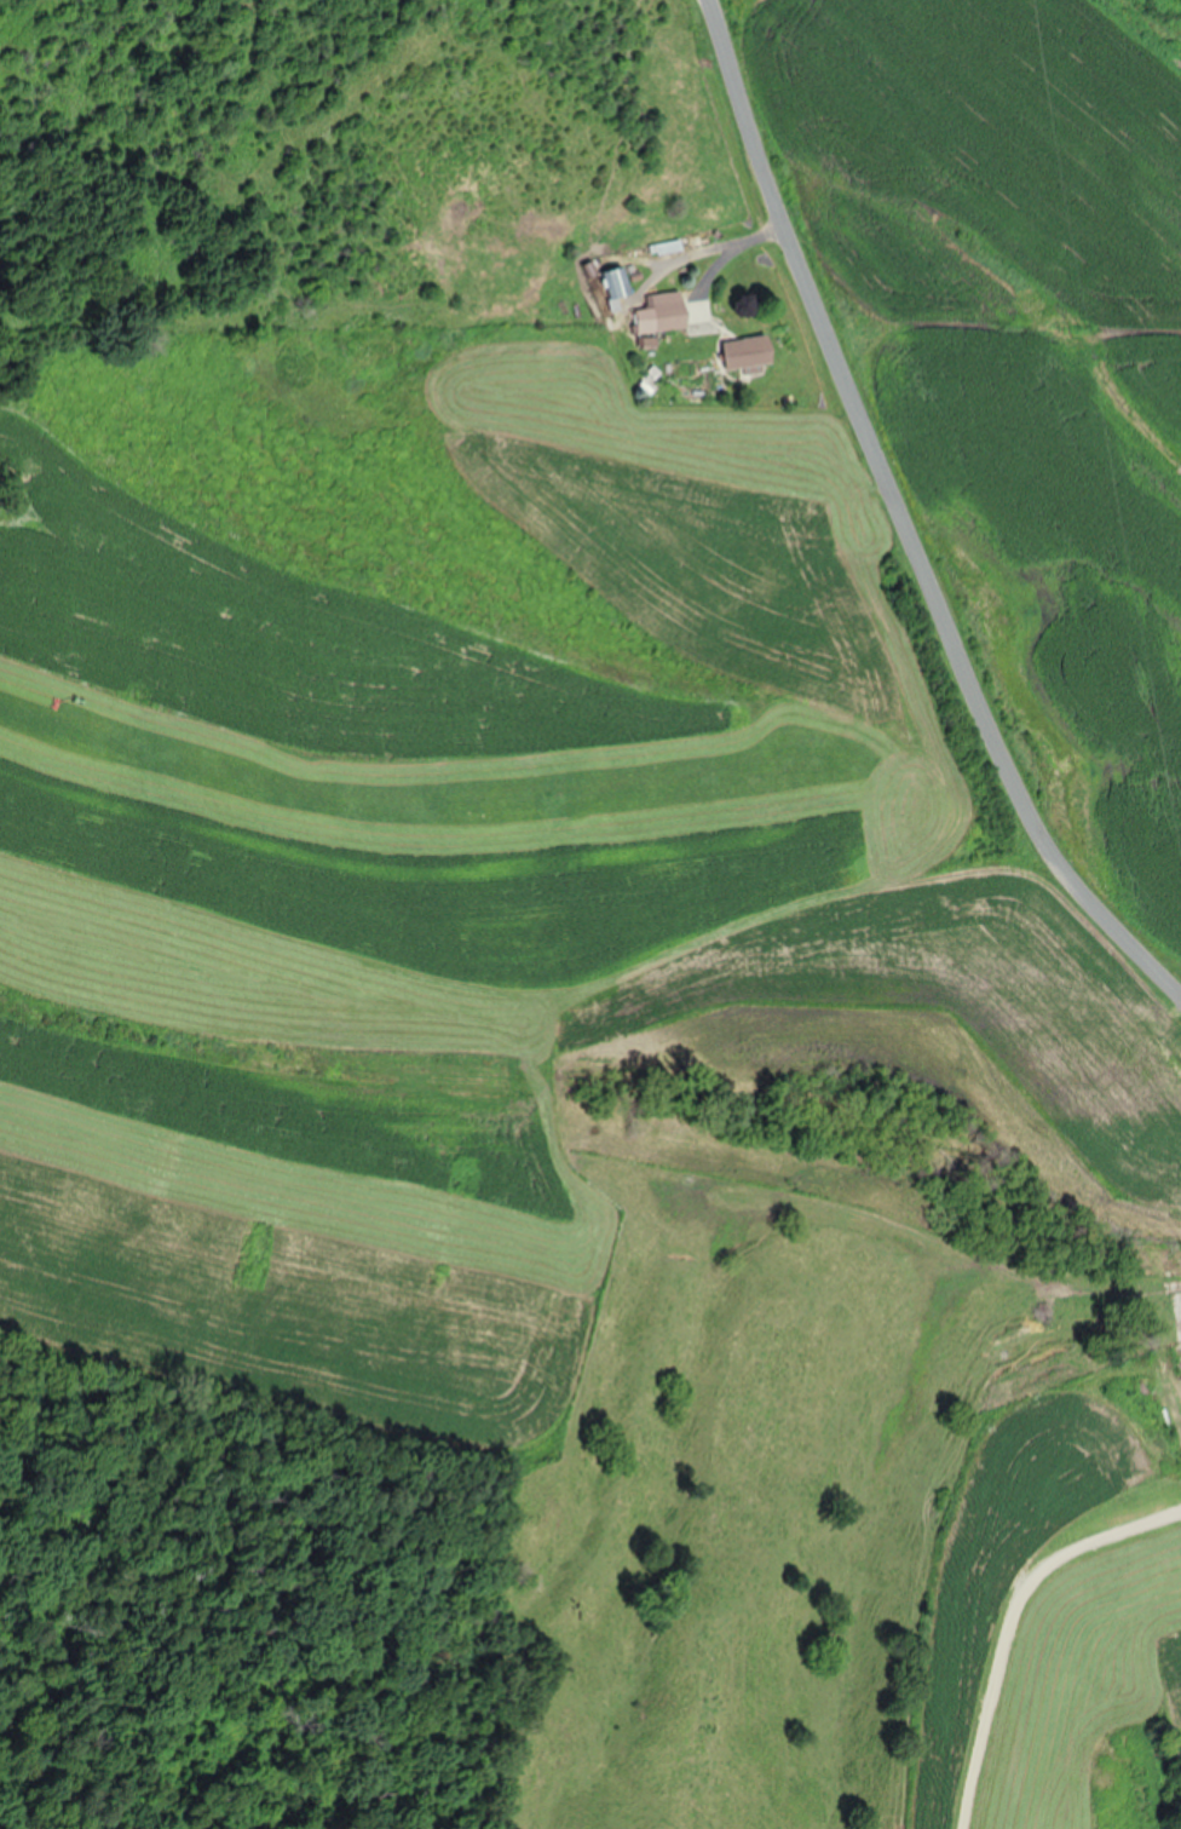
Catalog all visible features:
building: (615, 282)
building: (661, 312)
building: (743, 352)
road: (901, 524)
building: (1176, 1323)
road: (1007, 1620)

